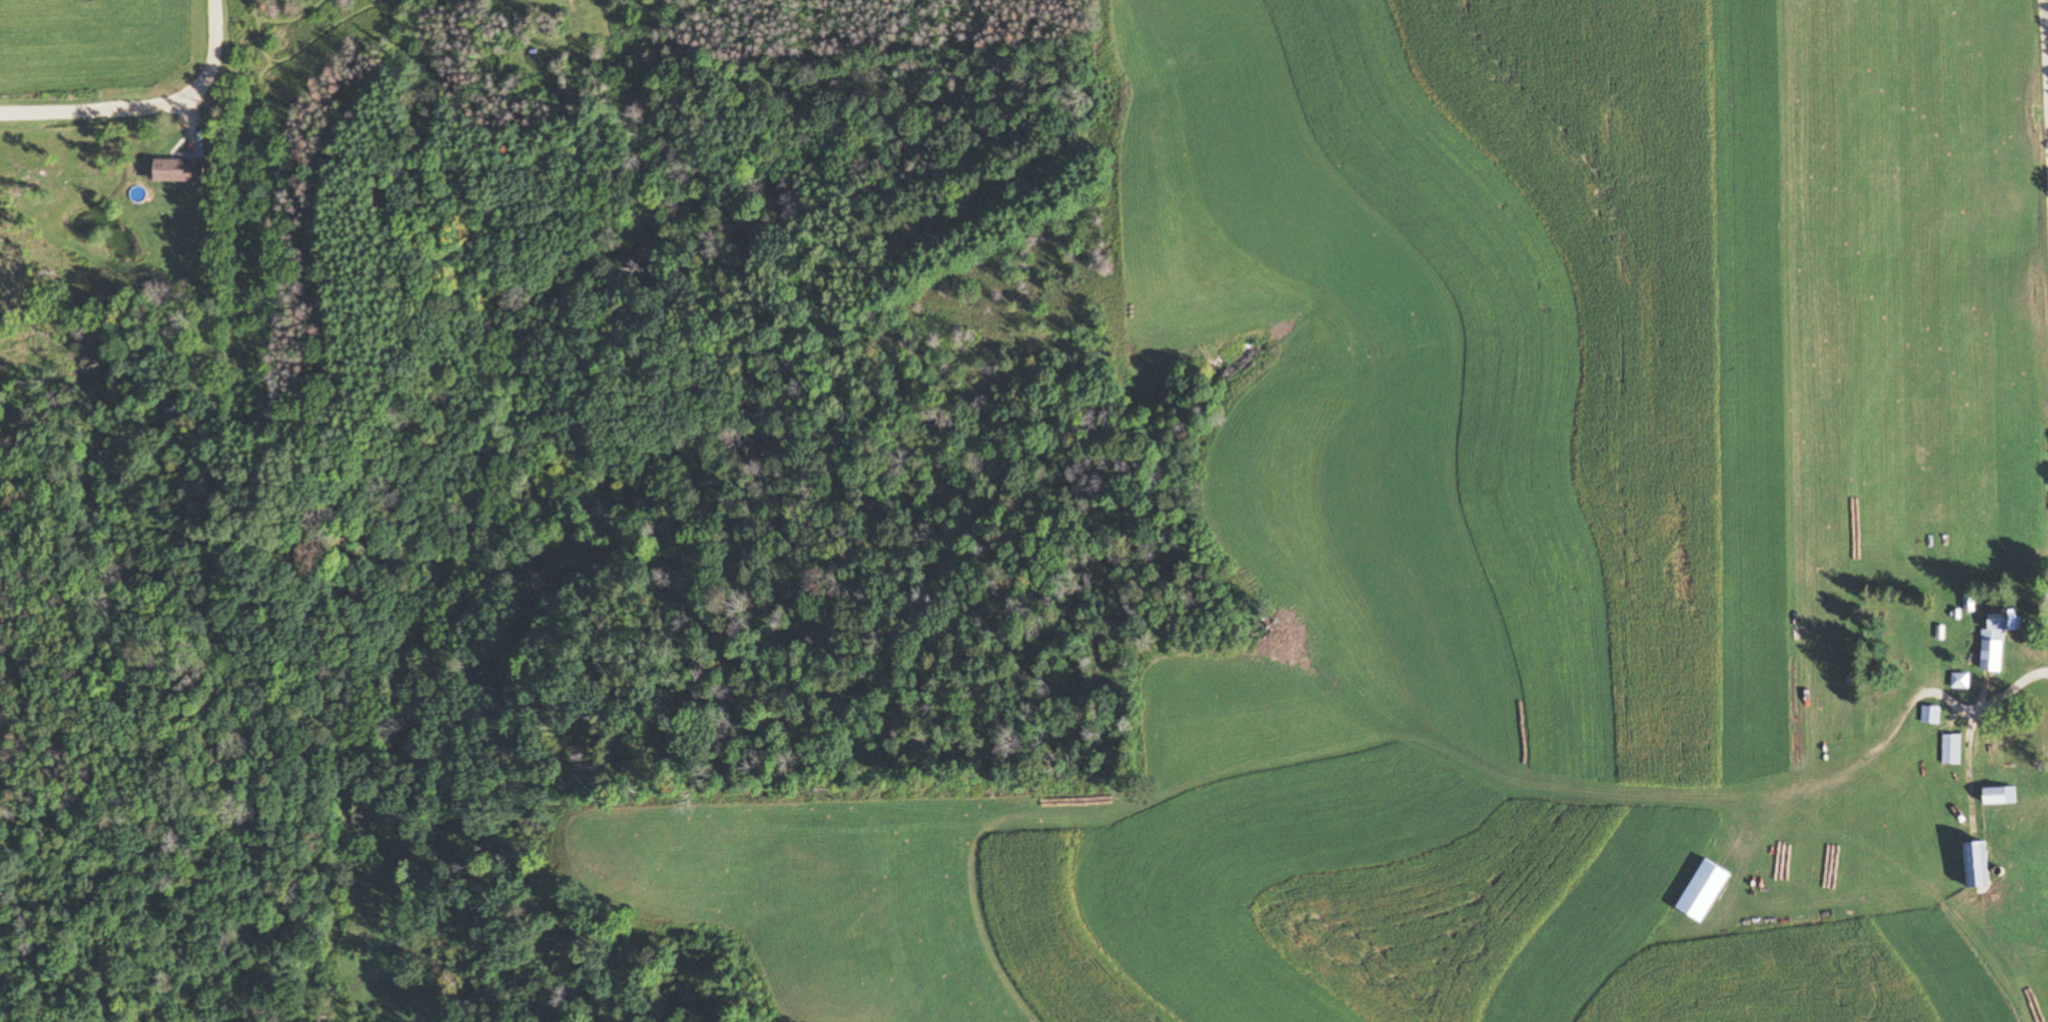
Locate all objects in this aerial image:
road: (2046, 25)
crop: (87, 30)
road: (143, 101)
building: (182, 170)
crop: (1476, 530)
building: (2000, 641)
building: (1963, 681)
building: (1932, 715)
building: (1953, 749)
building: (2002, 796)
building: (1984, 866)

